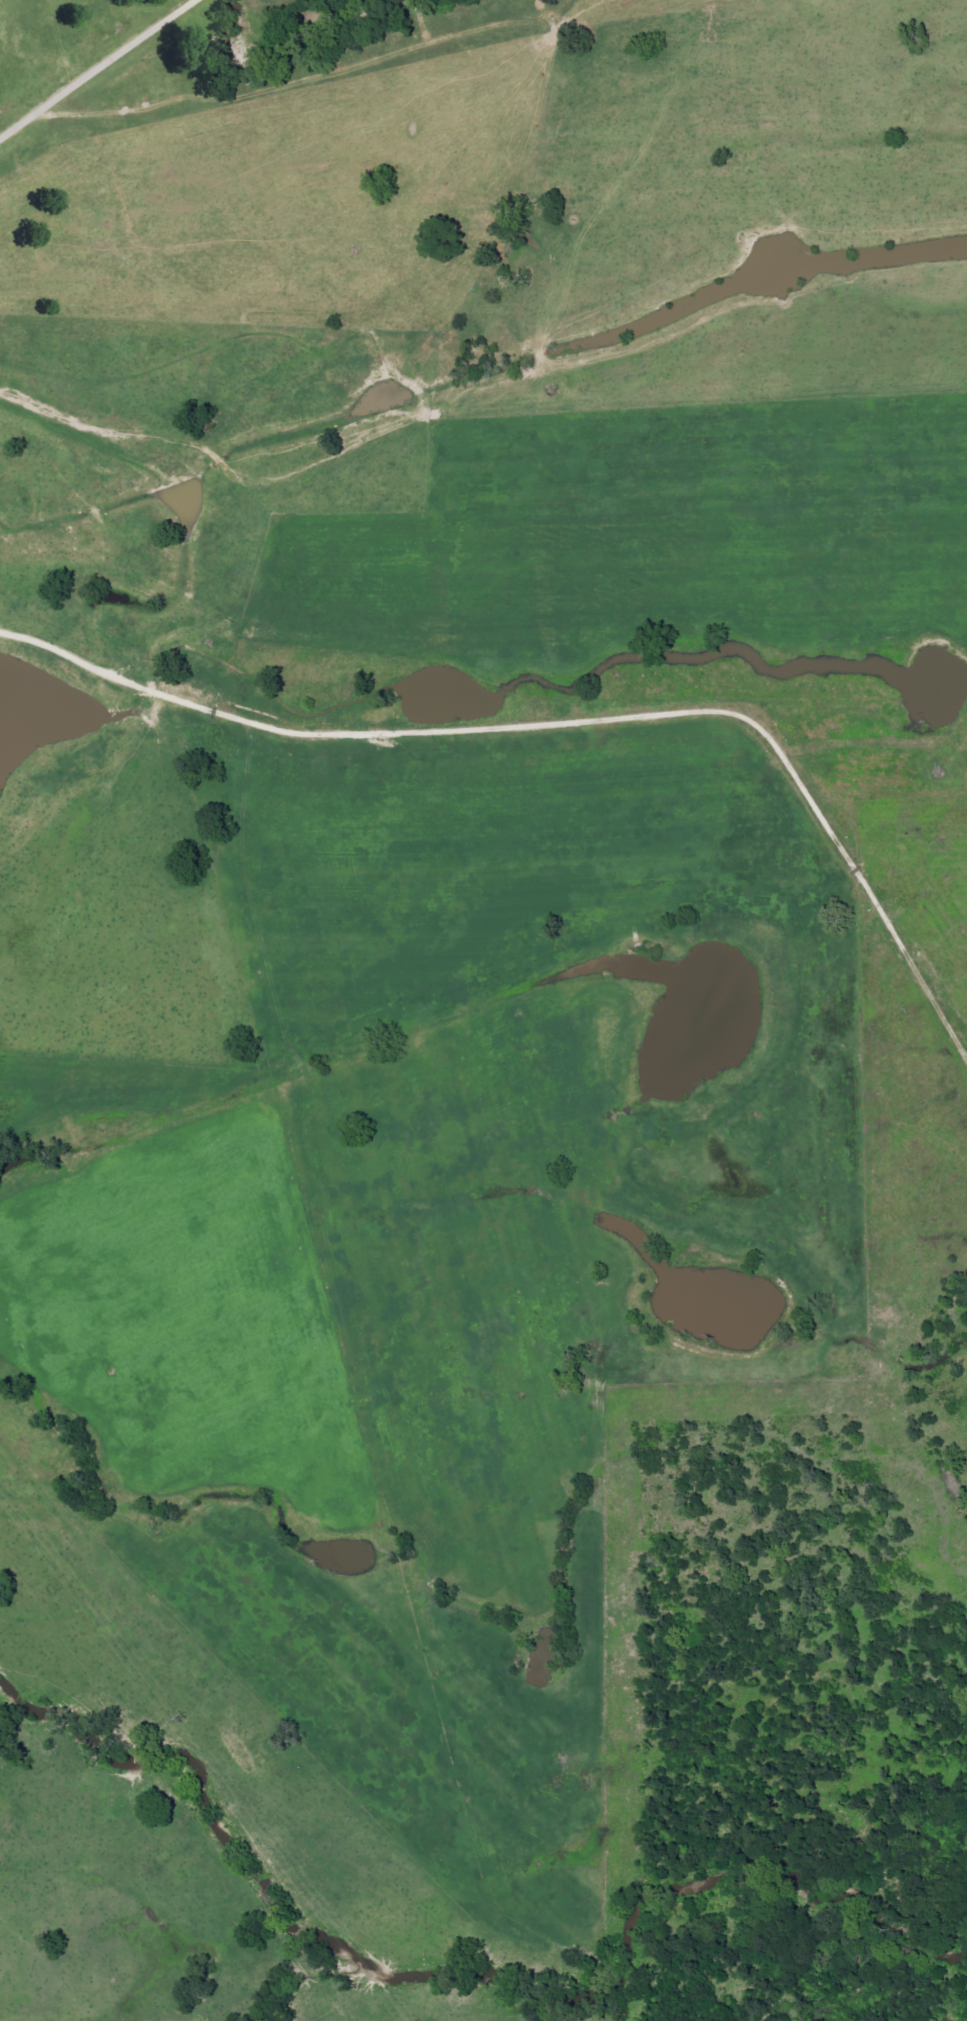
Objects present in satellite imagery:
power tower: (184, 1723)

